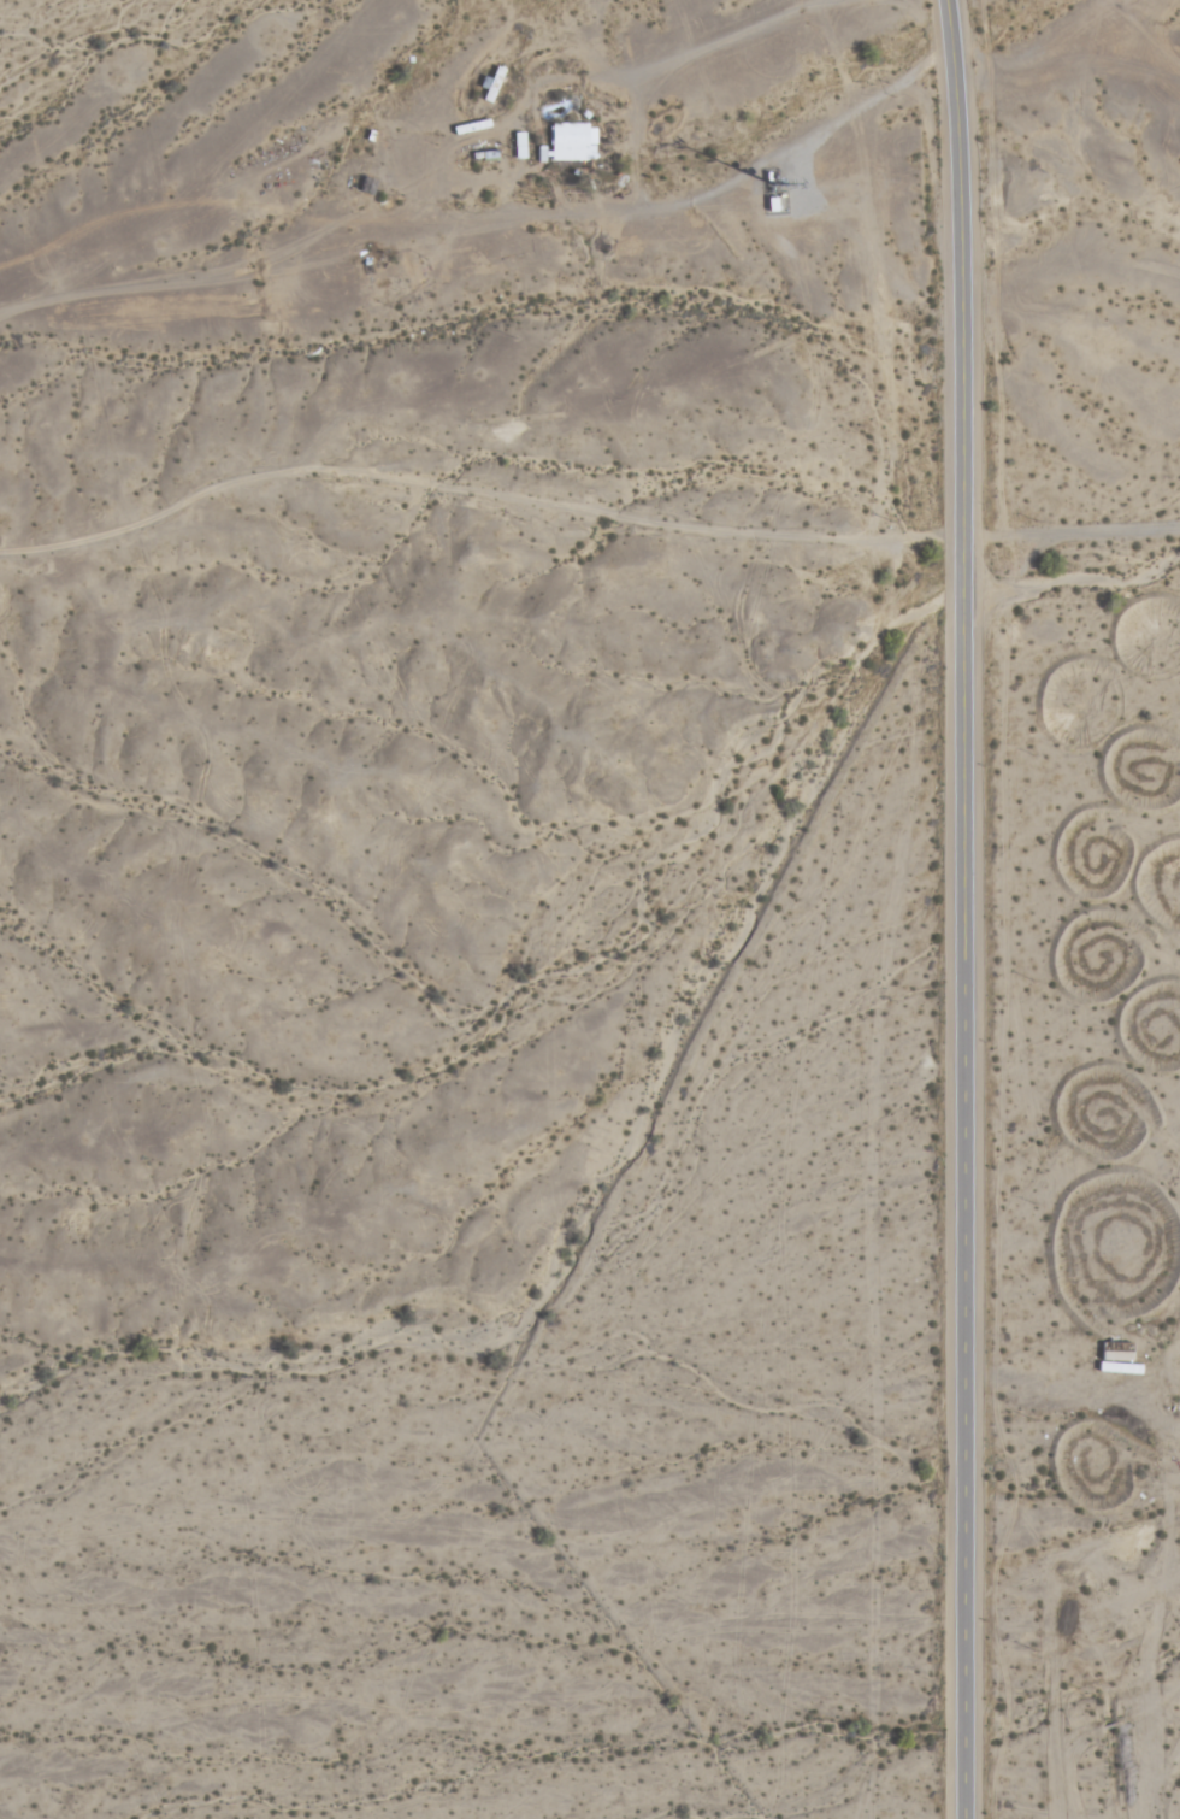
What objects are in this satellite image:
building: (570, 141)
road: (479, 494)
road: (972, 908)

